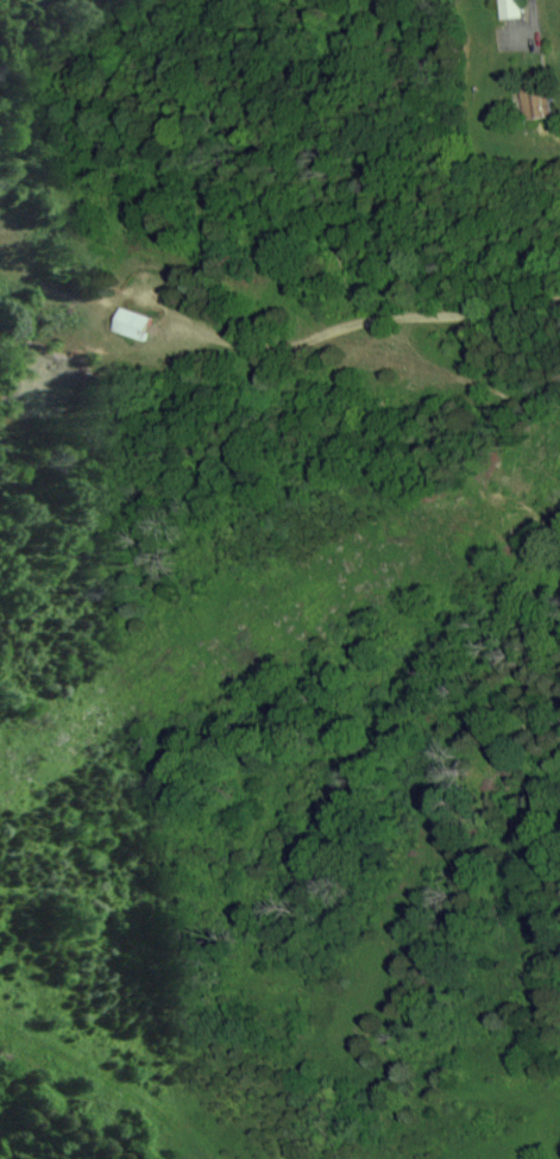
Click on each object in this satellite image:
building: (508, 10)
building: (533, 106)
building: (138, 325)
road: (359, 327)

